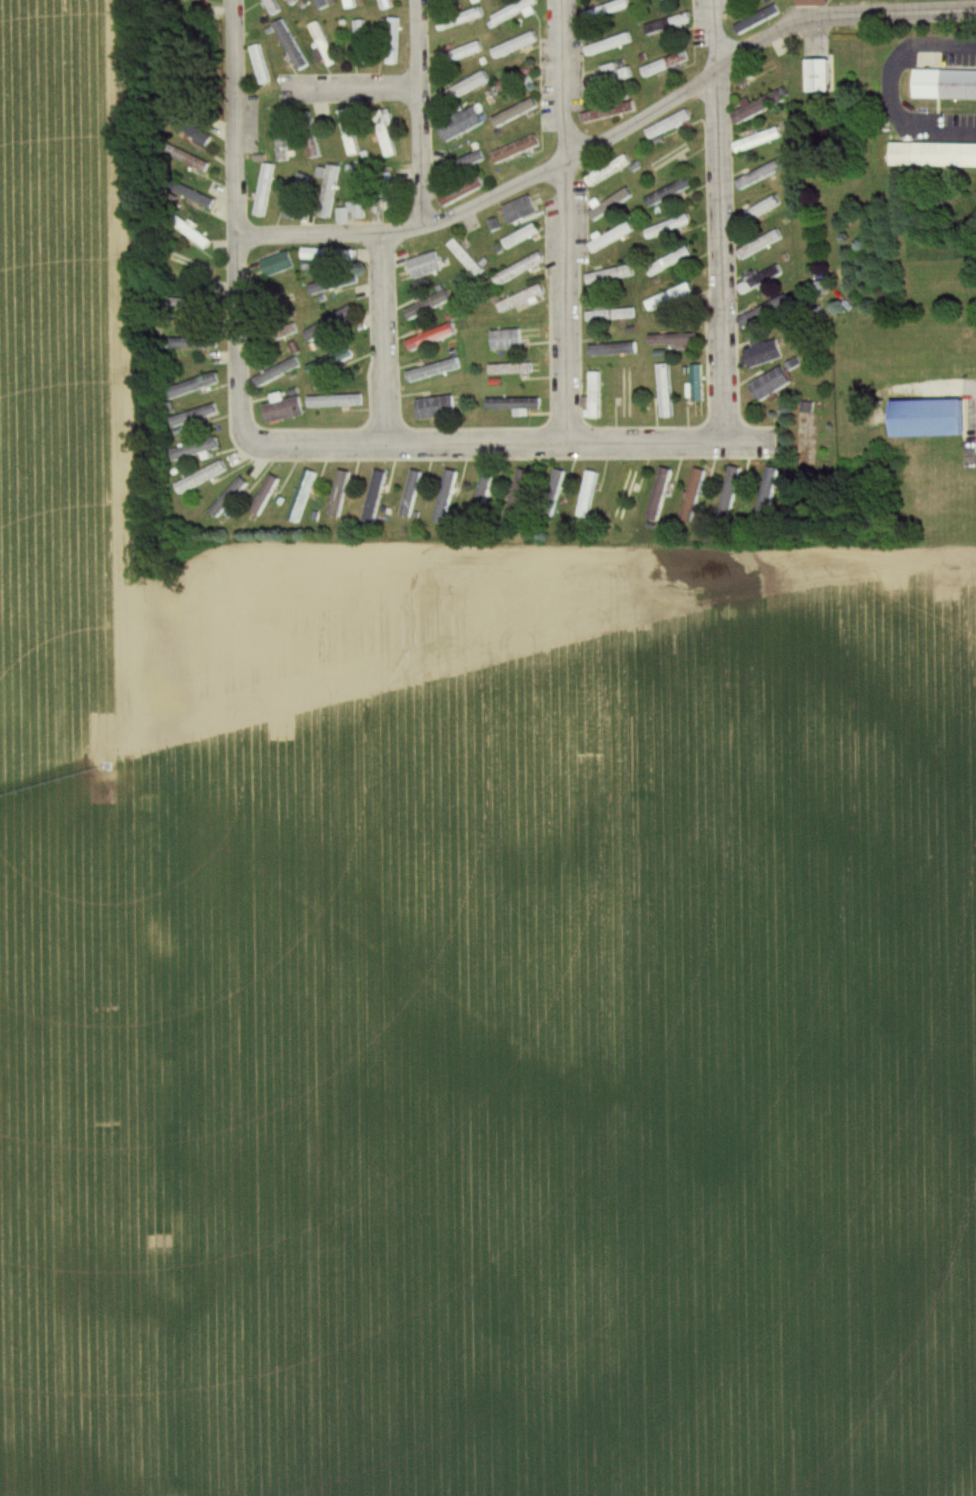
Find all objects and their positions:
building: (438, 0)
building: (292, 2)
building: (812, 2)
building: (320, 4)
building: (350, 4)
building: (385, 4)
building: (515, 10)
building: (606, 10)
building: (460, 19)
building: (757, 19)
building: (667, 24)
building: (391, 41)
building: (360, 44)
building: (609, 44)
building: (290, 45)
building: (515, 45)
building: (323, 47)
building: (459, 54)
building: (259, 65)
building: (664, 65)
building: (820, 75)
building: (518, 77)
building: (610, 77)
building: (946, 85)
road: (350, 87)
road: (886, 88)
building: (463, 89)
building: (761, 106)
road: (418, 112)
building: (517, 112)
building: (459, 124)
building: (668, 124)
road: (610, 132)
building: (348, 133)
building: (385, 135)
building: (281, 137)
building: (758, 141)
building: (516, 150)
building: (935, 155)
building: (669, 158)
building: (197, 163)
building: (461, 166)
building: (608, 170)
building: (762, 174)
building: (264, 190)
building: (668, 192)
building: (461, 193)
building: (326, 195)
building: (295, 196)
building: (357, 196)
building: (197, 197)
building: (387, 197)
building: (610, 204)
building: (516, 207)
building: (757, 211)
road: (716, 219)
road: (562, 220)
road: (234, 222)
building: (195, 234)
building: (521, 237)
building: (760, 244)
building: (327, 254)
building: (466, 259)
building: (670, 261)
building: (278, 264)
building: (192, 265)
building: (424, 266)
building: (519, 269)
building: (611, 275)
building: (761, 278)
building: (324, 287)
building: (670, 297)
building: (521, 300)
building: (427, 306)
building: (763, 312)
building: (612, 315)
building: (330, 324)
road: (382, 337)
building: (431, 337)
building: (673, 340)
building: (195, 343)
building: (612, 350)
building: (763, 353)
building: (329, 361)
building: (511, 369)
building: (432, 371)
building: (278, 373)
building: (201, 384)
building: (696, 384)
building: (770, 385)
building: (665, 391)
building: (625, 395)
building: (595, 396)
building: (335, 401)
building: (513, 404)
building: (435, 408)
building: (283, 411)
building: (205, 413)
building: (935, 417)
road: (508, 441)
building: (195, 449)
building: (201, 477)
building: (556, 483)
building: (588, 492)
building: (482, 493)
building: (518, 493)
building: (729, 493)
building: (336, 494)
building: (409, 494)
building: (625, 494)
building: (660, 494)
building: (766, 494)
building: (693, 495)
building: (263, 496)
building: (372, 496)
building: (226, 497)
building: (299, 497)
building: (444, 497)
crop: (74, 781)
crop: (592, 1025)

